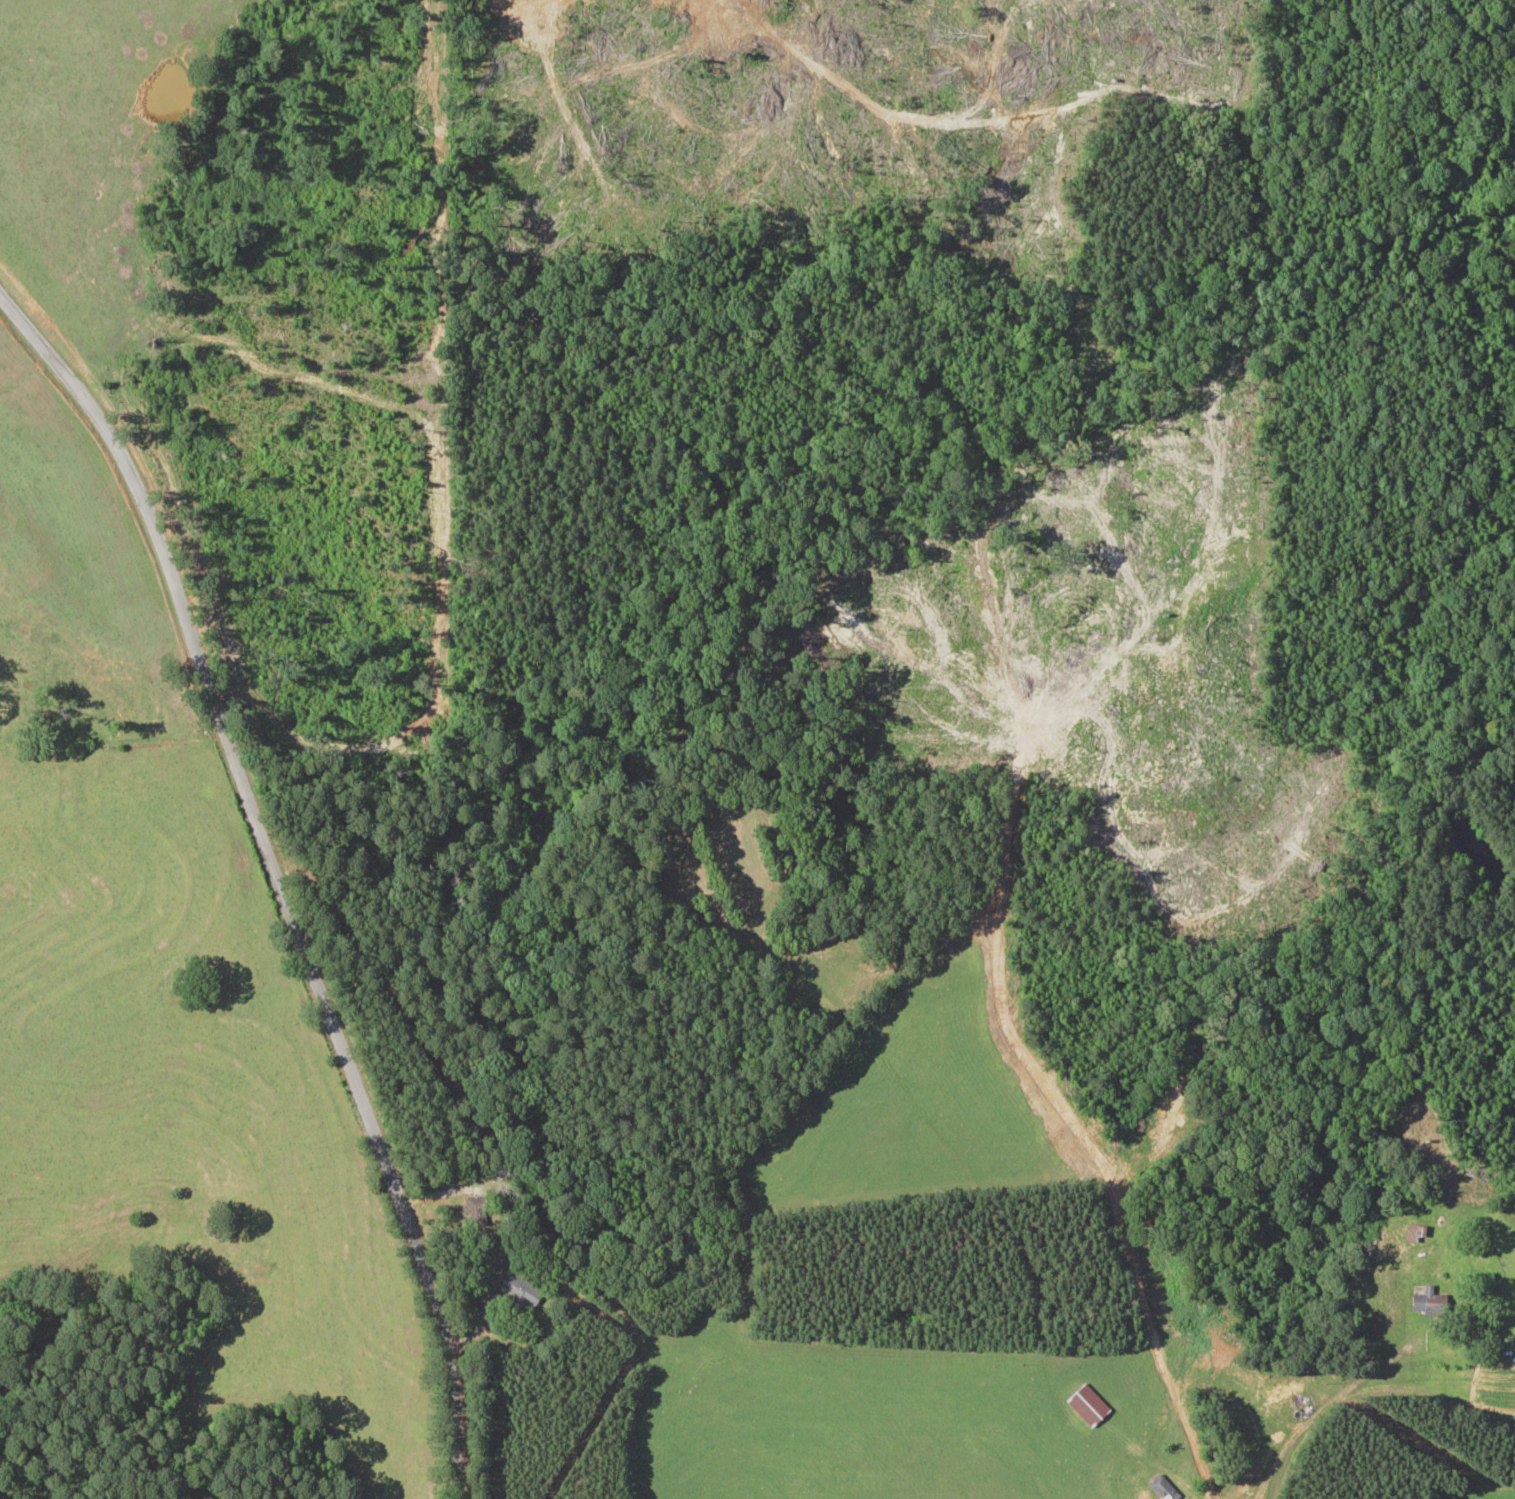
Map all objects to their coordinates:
road: (277, 877)
building: (473, 1209)
building: (1414, 1232)
building: (520, 1286)
building: (1429, 1301)
road: (1296, 1392)
building: (1283, 1393)
building: (1088, 1404)

